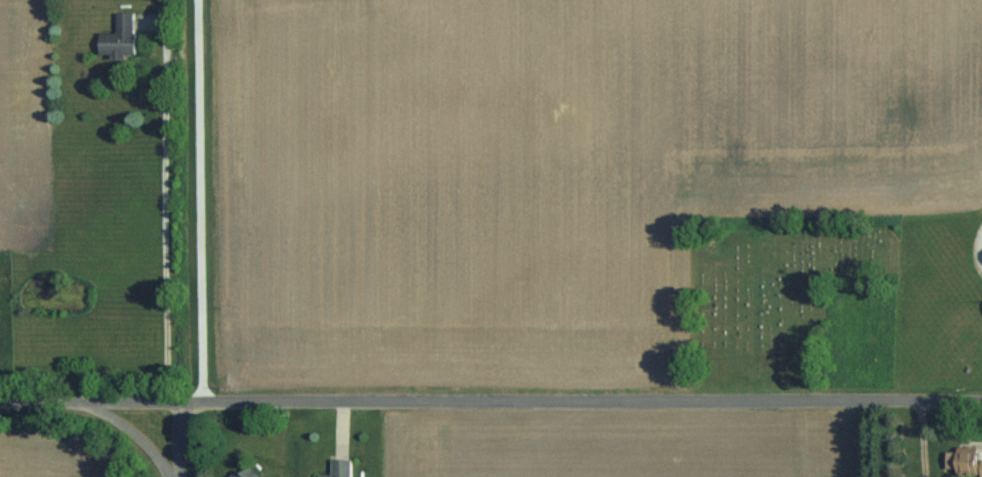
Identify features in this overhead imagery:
building: (120, 37)
park: (784, 303)
road: (34, 399)
road: (525, 399)
road: (125, 427)
road: (177, 437)
building: (967, 458)
building: (340, 468)
building: (243, 473)

